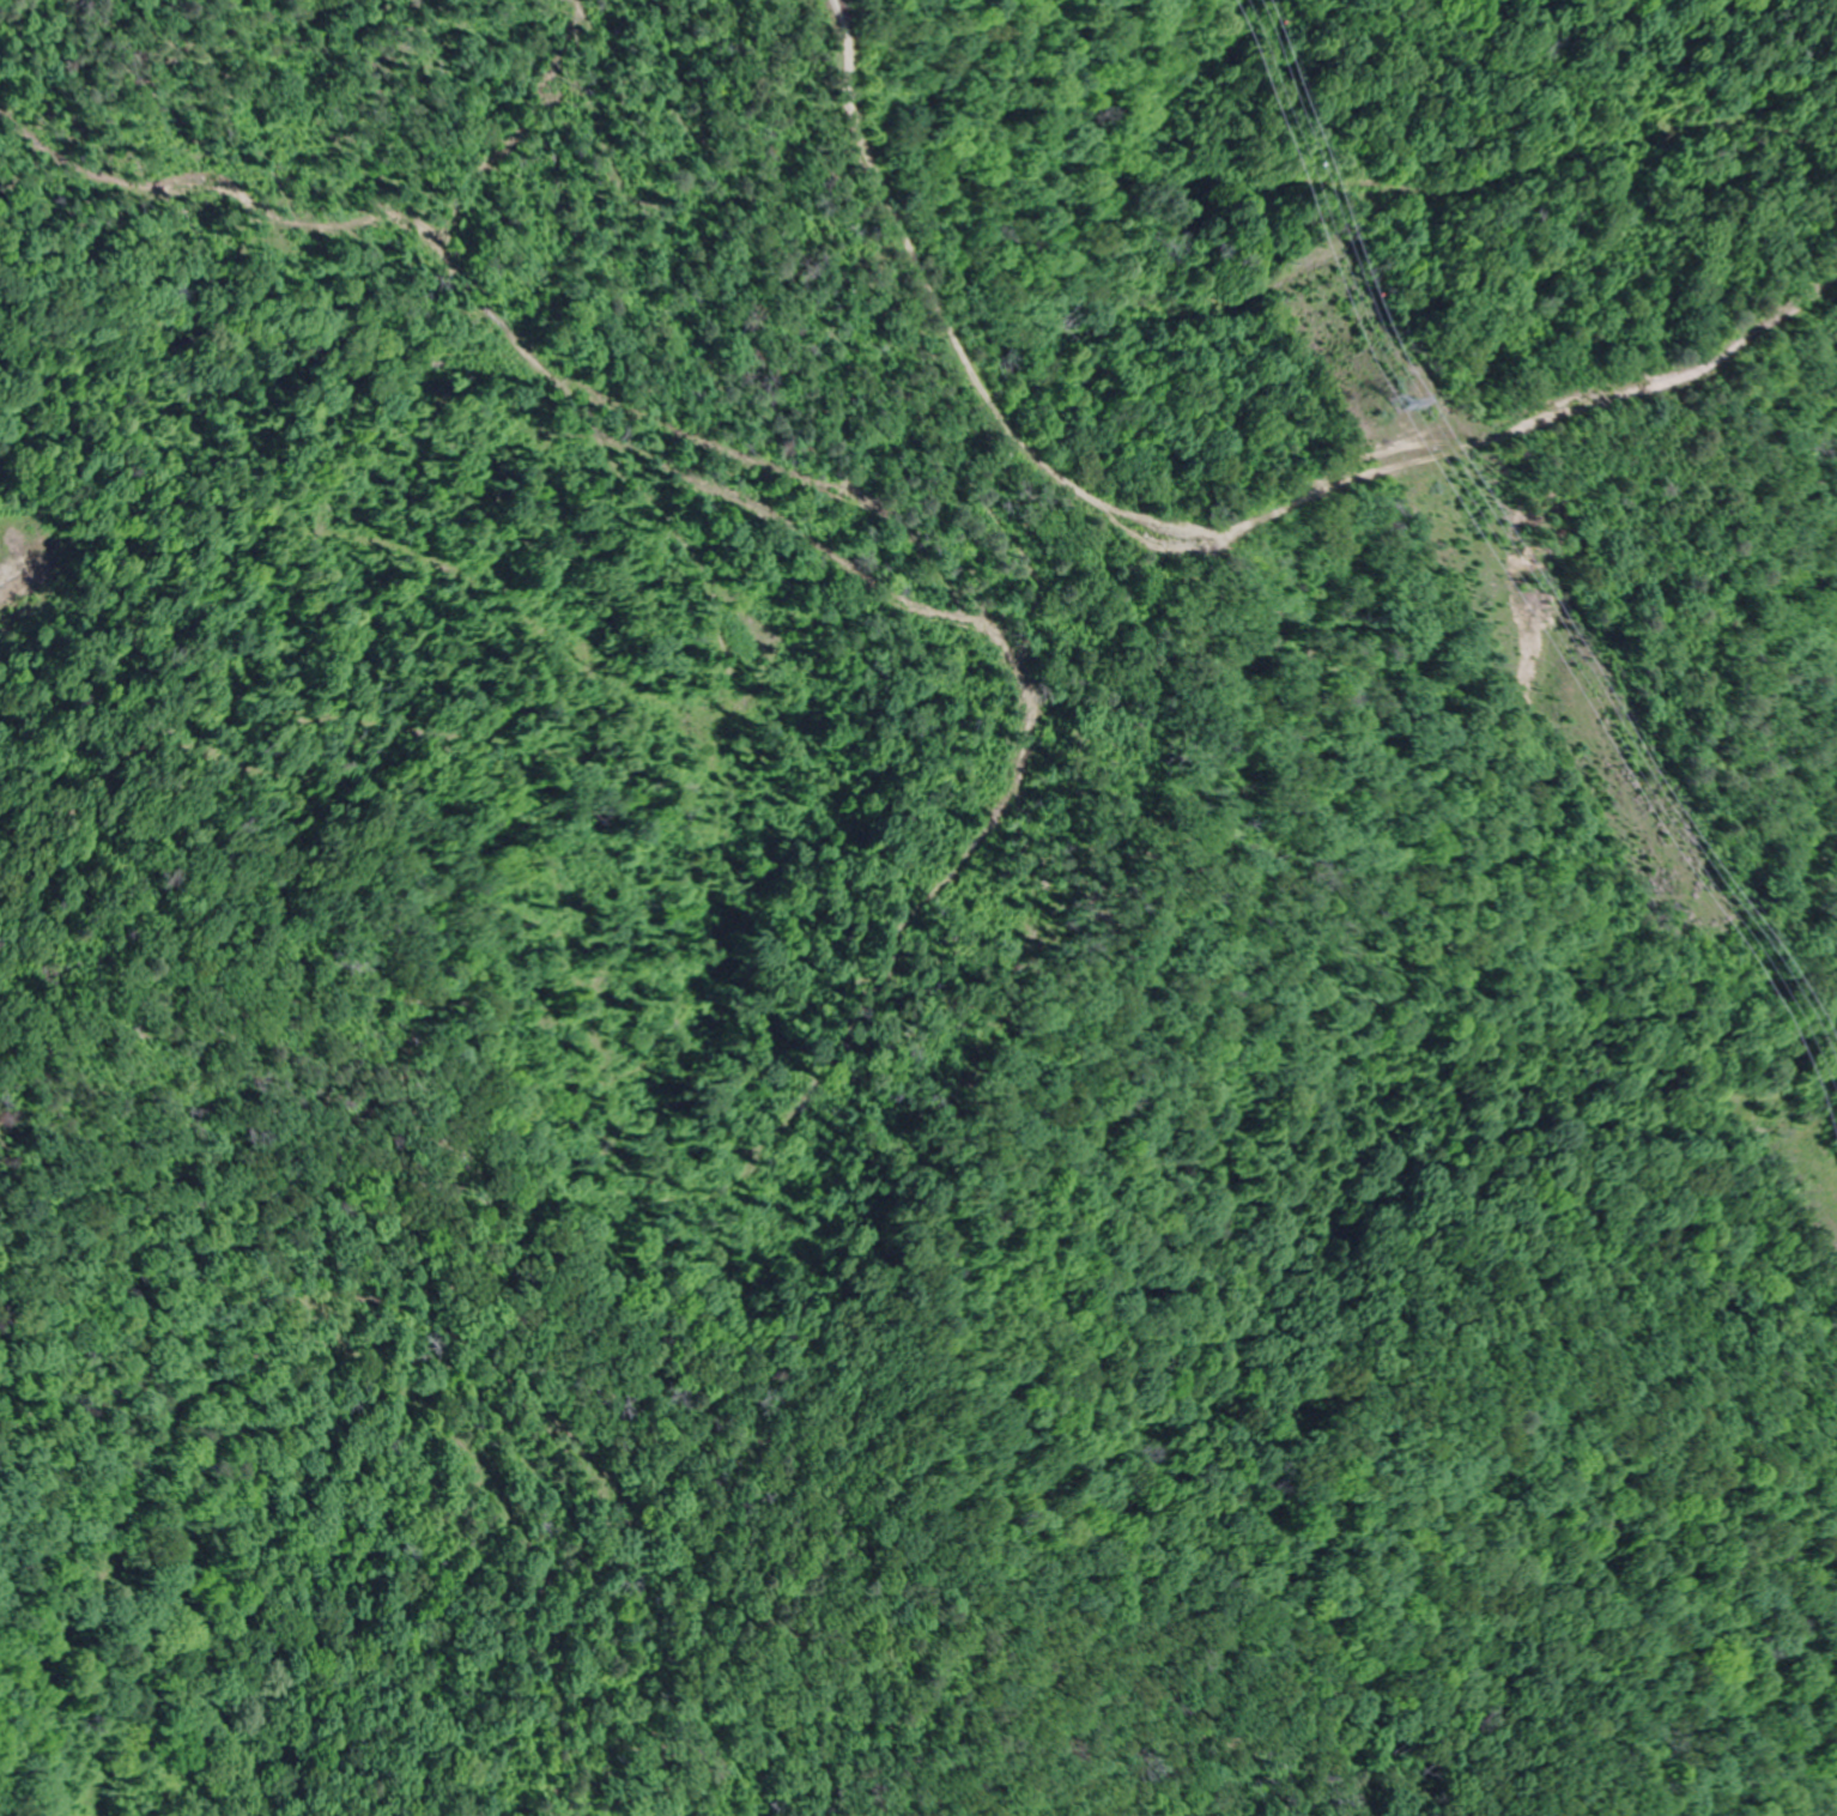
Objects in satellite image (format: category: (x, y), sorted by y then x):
power tower: (1396, 404)
road: (1041, 985)

